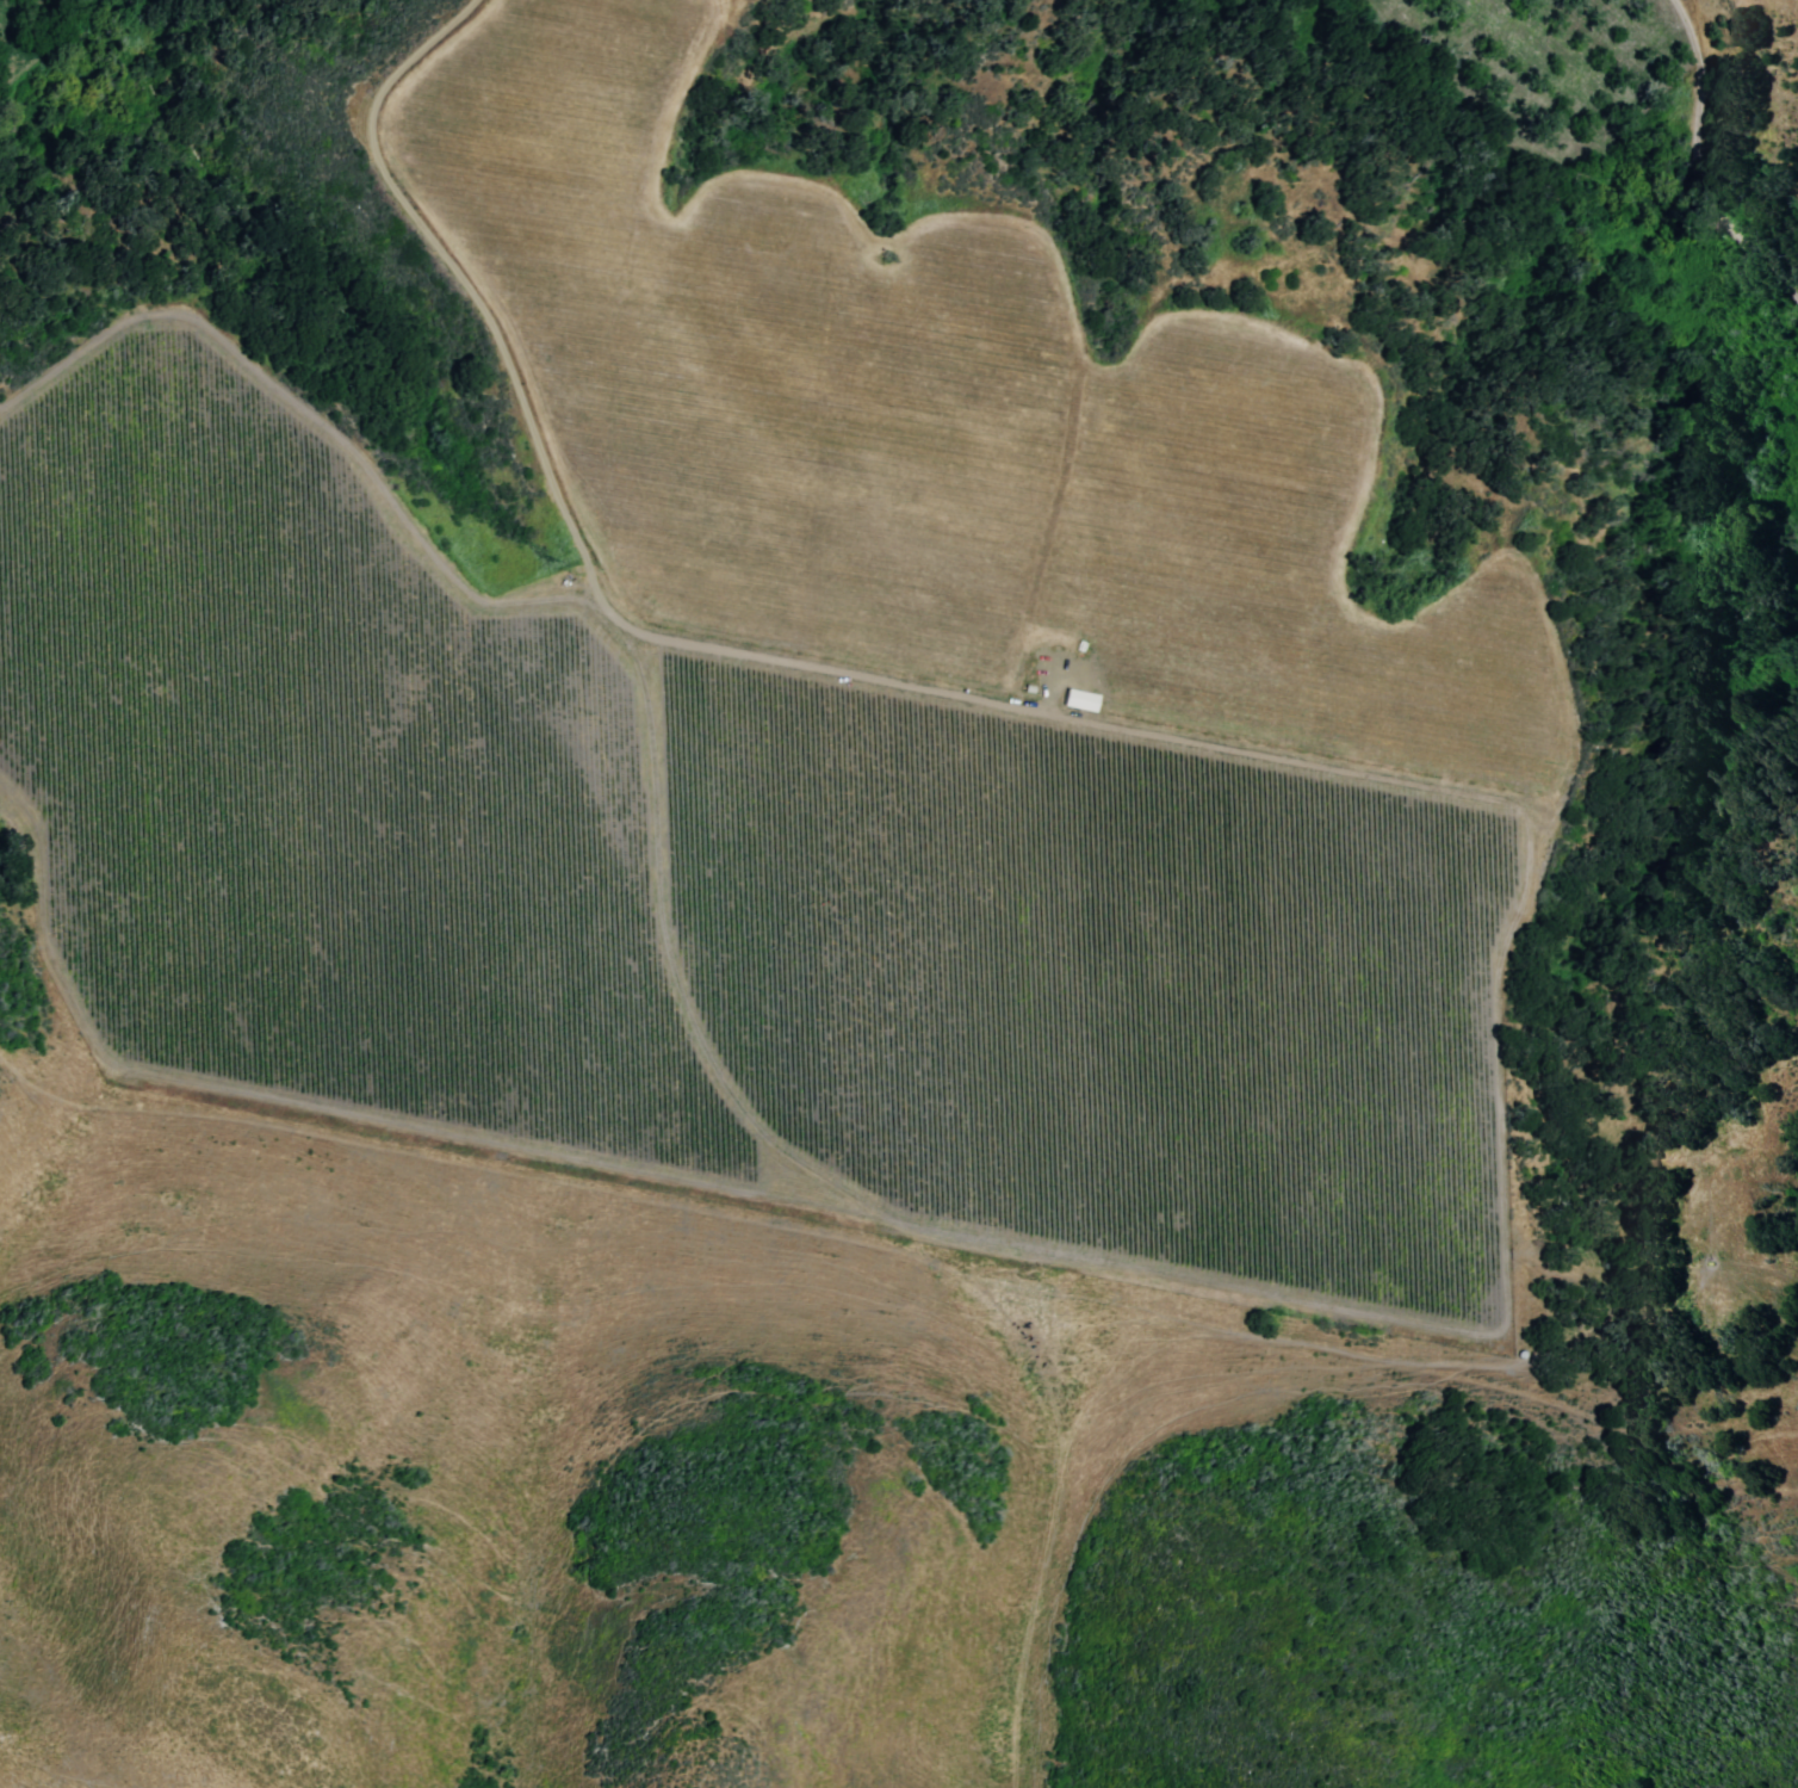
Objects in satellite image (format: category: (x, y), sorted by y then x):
crop: (1605, 24)
crop: (46, 42)
road: (1701, 166)
crop: (734, 883)

